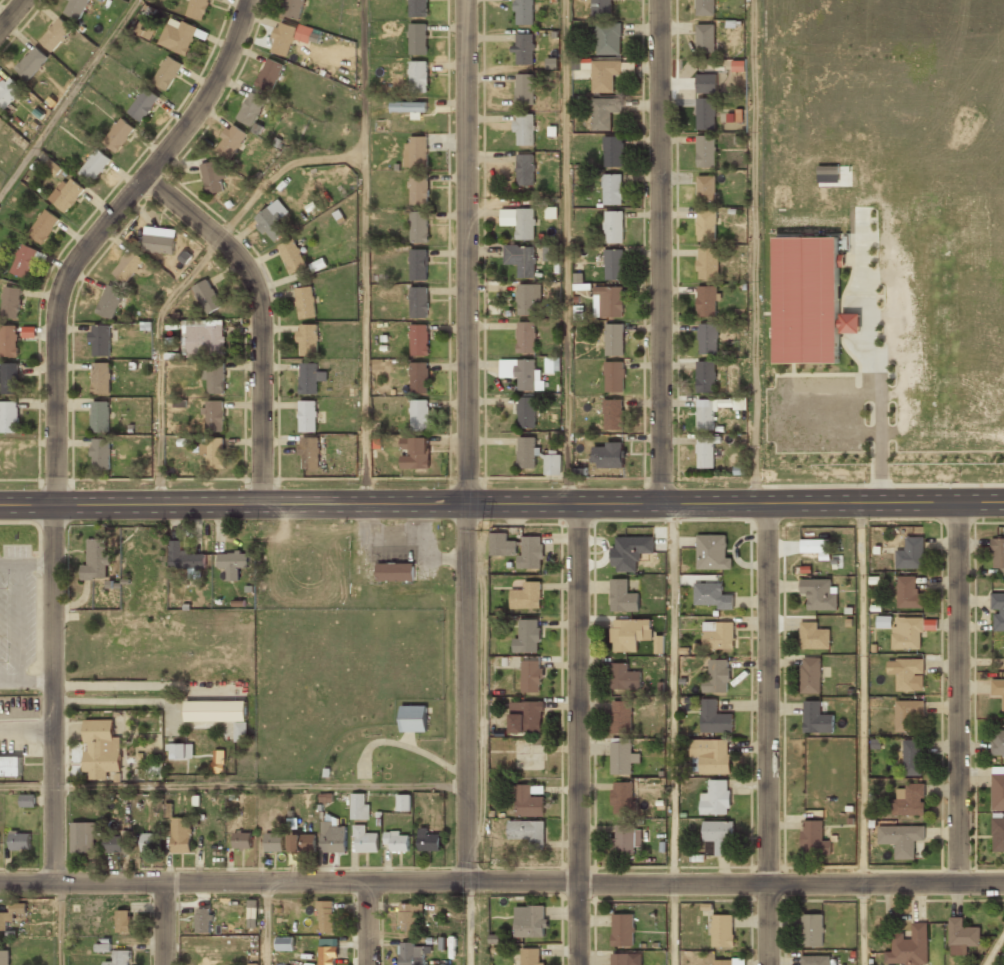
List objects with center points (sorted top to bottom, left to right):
building: (73, 7)
building: (418, 7)
building: (703, 7)
building: (195, 8)
building: (292, 8)
building: (601, 8)
building: (524, 11)
road: (12, 14)
building: (144, 30)
building: (55, 33)
building: (178, 34)
building: (418, 38)
building: (609, 38)
building: (704, 38)
building: (282, 39)
building: (524, 48)
building: (30, 62)
building: (166, 72)
building: (609, 73)
building: (269, 74)
building: (418, 75)
building: (706, 83)
building: (524, 88)
building: (8, 90)
road: (68, 96)
building: (142, 104)
building: (250, 107)
building: (408, 107)
building: (605, 111)
building: (704, 113)
building: (524, 129)
building: (118, 135)
building: (230, 140)
building: (415, 151)
building: (613, 151)
building: (704, 151)
building: (94, 165)
building: (53, 167)
building: (525, 169)
building: (213, 177)
building: (418, 188)
building: (706, 188)
building: (612, 189)
building: (66, 193)
building: (271, 223)
building: (43, 224)
building: (525, 224)
building: (706, 225)
building: (613, 226)
building: (418, 227)
building: (159, 243)
road: (753, 251)
road: (364, 252)
road: (466, 252)
building: (550, 252)
road: (567, 252)
road: (660, 252)
building: (292, 257)
building: (521, 259)
building: (23, 260)
building: (708, 263)
building: (418, 264)
building: (613, 264)
building: (127, 266)
road: (184, 280)
building: (206, 296)
building: (527, 298)
building: (809, 300)
building: (607, 301)
building: (706, 301)
building: (108, 302)
building: (304, 302)
building: (418, 302)
building: (11, 303)
road: (260, 316)
building: (28, 331)
building: (525, 337)
building: (203, 338)
building: (708, 338)
building: (100, 339)
building: (308, 339)
building: (419, 339)
building: (614, 339)
building: (8, 341)
building: (519, 372)
building: (614, 376)
building: (705, 376)
building: (100, 377)
building: (419, 377)
building: (9, 378)
building: (213, 378)
building: (309, 378)
road: (55, 411)
building: (526, 412)
building: (213, 413)
building: (419, 414)
building: (613, 414)
building: (8, 416)
building: (99, 416)
building: (307, 416)
building: (704, 417)
building: (706, 450)
building: (213, 452)
building: (309, 452)
building: (413, 452)
building: (100, 454)
building: (539, 455)
building: (608, 455)
road: (502, 504)
power tower: (485, 528)
building: (816, 545)
building: (518, 548)
building: (630, 551)
building: (711, 552)
building: (910, 553)
building: (998, 555)
building: (184, 557)
building: (95, 560)
building: (232, 563)
building: (395, 572)
building: (908, 592)
building: (819, 594)
building: (527, 595)
building: (710, 596)
building: (622, 597)
building: (998, 613)
building: (907, 633)
building: (628, 634)
building: (527, 636)
building: (718, 636)
building: (813, 636)
building: (658, 644)
building: (907, 673)
building: (810, 674)
building: (532, 676)
building: (716, 676)
building: (623, 677)
building: (998, 689)
road: (467, 692)
road: (862, 692)
road: (958, 692)
building: (218, 714)
building: (907, 715)
building: (621, 716)
building: (816, 716)
building: (525, 717)
building: (413, 718)
building: (714, 718)
road: (576, 734)
road: (672, 734)
road: (766, 734)
building: (997, 743)
building: (100, 749)
building: (178, 752)
building: (711, 755)
building: (622, 757)
building: (912, 758)
building: (217, 761)
building: (10, 766)
road: (27, 786)
road: (261, 786)
building: (998, 791)
building: (622, 796)
building: (715, 798)
building: (27, 800)
building: (907, 801)
building: (403, 802)
building: (527, 802)
building: (358, 806)
building: (526, 831)
building: (181, 835)
building: (998, 835)
building: (82, 837)
building: (332, 837)
building: (813, 837)
building: (718, 838)
building: (363, 839)
building: (428, 839)
building: (241, 840)
building: (396, 840)
building: (627, 840)
building: (900, 840)
building: (19, 841)
building: (146, 842)
building: (273, 843)
building: (302, 843)
building: (113, 844)
power tower: (484, 861)
road: (502, 881)
building: (325, 916)
building: (408, 916)
building: (5, 921)
building: (122, 921)
building: (202, 921)
road: (60, 923)
road: (163, 923)
road: (266, 923)
road: (367, 923)
road: (467, 923)
building: (530, 923)
road: (863, 923)
building: (622, 930)
building: (722, 930)
building: (812, 930)
building: (961, 936)
building: (284, 943)
building: (909, 947)
road: (994, 949)
building: (326, 951)
building: (411, 954)
building: (532, 956)
building: (4, 958)
building: (119, 958)
building: (619, 959)
building: (815, 960)
building: (722, 962)

